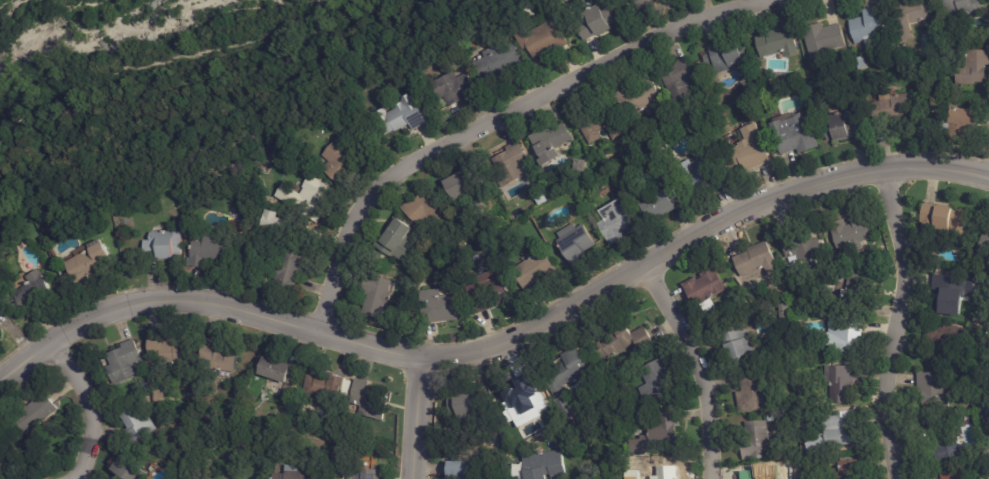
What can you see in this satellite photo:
building: (649, 5)
building: (963, 7)
building: (916, 16)
building: (599, 22)
building: (871, 29)
building: (826, 39)
building: (546, 42)
building: (780, 43)
building: (730, 56)
building: (501, 62)
road: (151, 63)
building: (975, 68)
building: (681, 80)
building: (757, 80)
park: (196, 84)
building: (457, 90)
road: (218, 92)
building: (641, 98)
building: (899, 108)
road: (500, 114)
building: (405, 116)
building: (965, 122)
building: (603, 124)
building: (849, 127)
building: (796, 134)
building: (553, 144)
building: (753, 148)
building: (343, 161)
building: (513, 163)
building: (705, 173)
building: (463, 189)
building: (312, 199)
building: (666, 202)
building: (429, 211)
building: (942, 220)
building: (272, 221)
building: (621, 221)
building: (289, 227)
building: (849, 233)
building: (984, 235)
building: (477, 239)
road: (697, 239)
building: (399, 240)
building: (165, 244)
building: (578, 246)
building: (799, 247)
building: (211, 251)
building: (57, 254)
building: (244, 259)
building: (91, 262)
building: (754, 262)
building: (445, 265)
building: (292, 269)
building: (538, 270)
building: (411, 287)
building: (701, 290)
building: (35, 291)
building: (948, 292)
building: (837, 293)
building: (492, 294)
building: (380, 296)
building: (856, 296)
road: (204, 303)
building: (441, 307)
building: (779, 307)
road: (894, 323)
building: (0, 330)
building: (842, 338)
building: (941, 342)
building: (623, 344)
building: (735, 346)
building: (167, 348)
building: (219, 355)
building: (127, 361)
road: (698, 367)
building: (281, 369)
building: (566, 378)
building: (657, 382)
building: (840, 382)
building: (329, 385)
building: (930, 391)
building: (749, 393)
building: (591, 394)
building: (521, 397)
building: (370, 399)
building: (474, 403)
road: (89, 405)
building: (37, 414)
building: (769, 419)
road: (416, 420)
building: (139, 426)
building: (834, 429)
building: (662, 433)
building: (752, 441)
building: (941, 443)
building: (5, 451)
building: (545, 465)
building: (130, 470)
building: (470, 470)
building: (846, 470)
building: (298, 473)
building: (365, 473)
building: (663, 473)
building: (949, 475)

